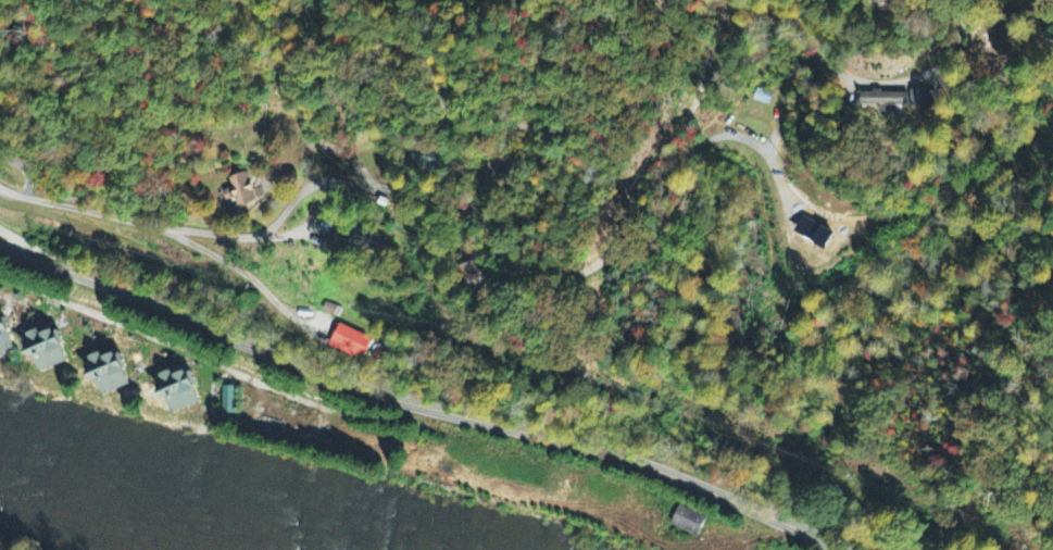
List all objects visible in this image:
building: (885, 2)
building: (923, 99)
building: (886, 101)
building: (426, 161)
road: (756, 179)
building: (243, 191)
road: (448, 195)
building: (865, 226)
road: (15, 238)
building: (367, 241)
building: (473, 276)
building: (4, 337)
building: (351, 342)
building: (47, 349)
building: (109, 373)
building: (179, 390)
building: (228, 400)
road: (418, 407)
river: (166, 504)
building: (688, 521)

